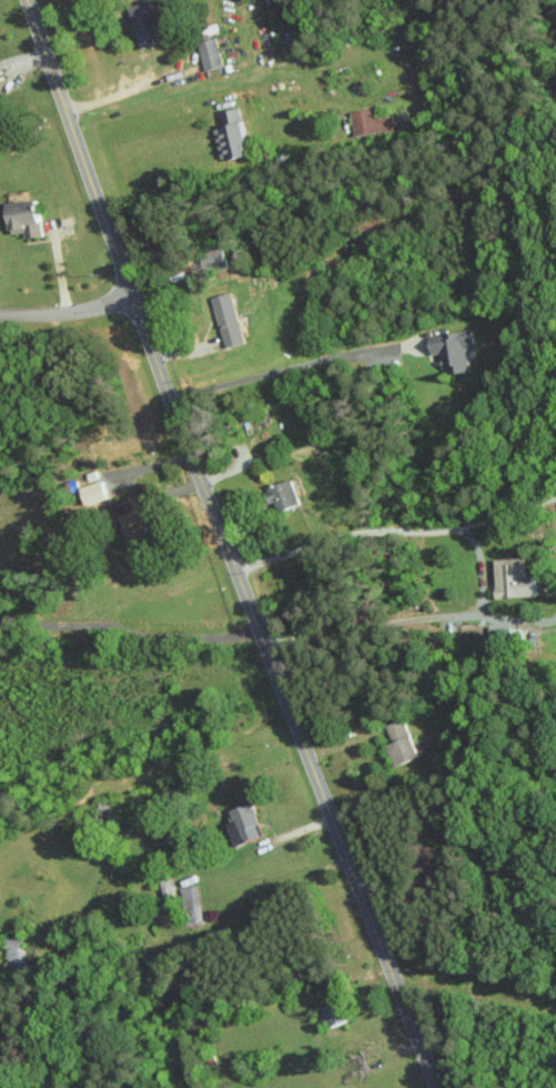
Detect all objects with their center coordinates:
building: (144, 23)
building: (209, 54)
road: (130, 91)
building: (368, 122)
building: (230, 137)
building: (23, 216)
road: (68, 314)
building: (226, 318)
building: (452, 349)
road: (289, 366)
road: (131, 487)
building: (281, 494)
building: (131, 523)
road: (395, 532)
road: (226, 545)
building: (512, 577)
road: (414, 619)
building: (398, 742)
building: (242, 823)
building: (190, 904)
building: (14, 951)
building: (332, 1014)

